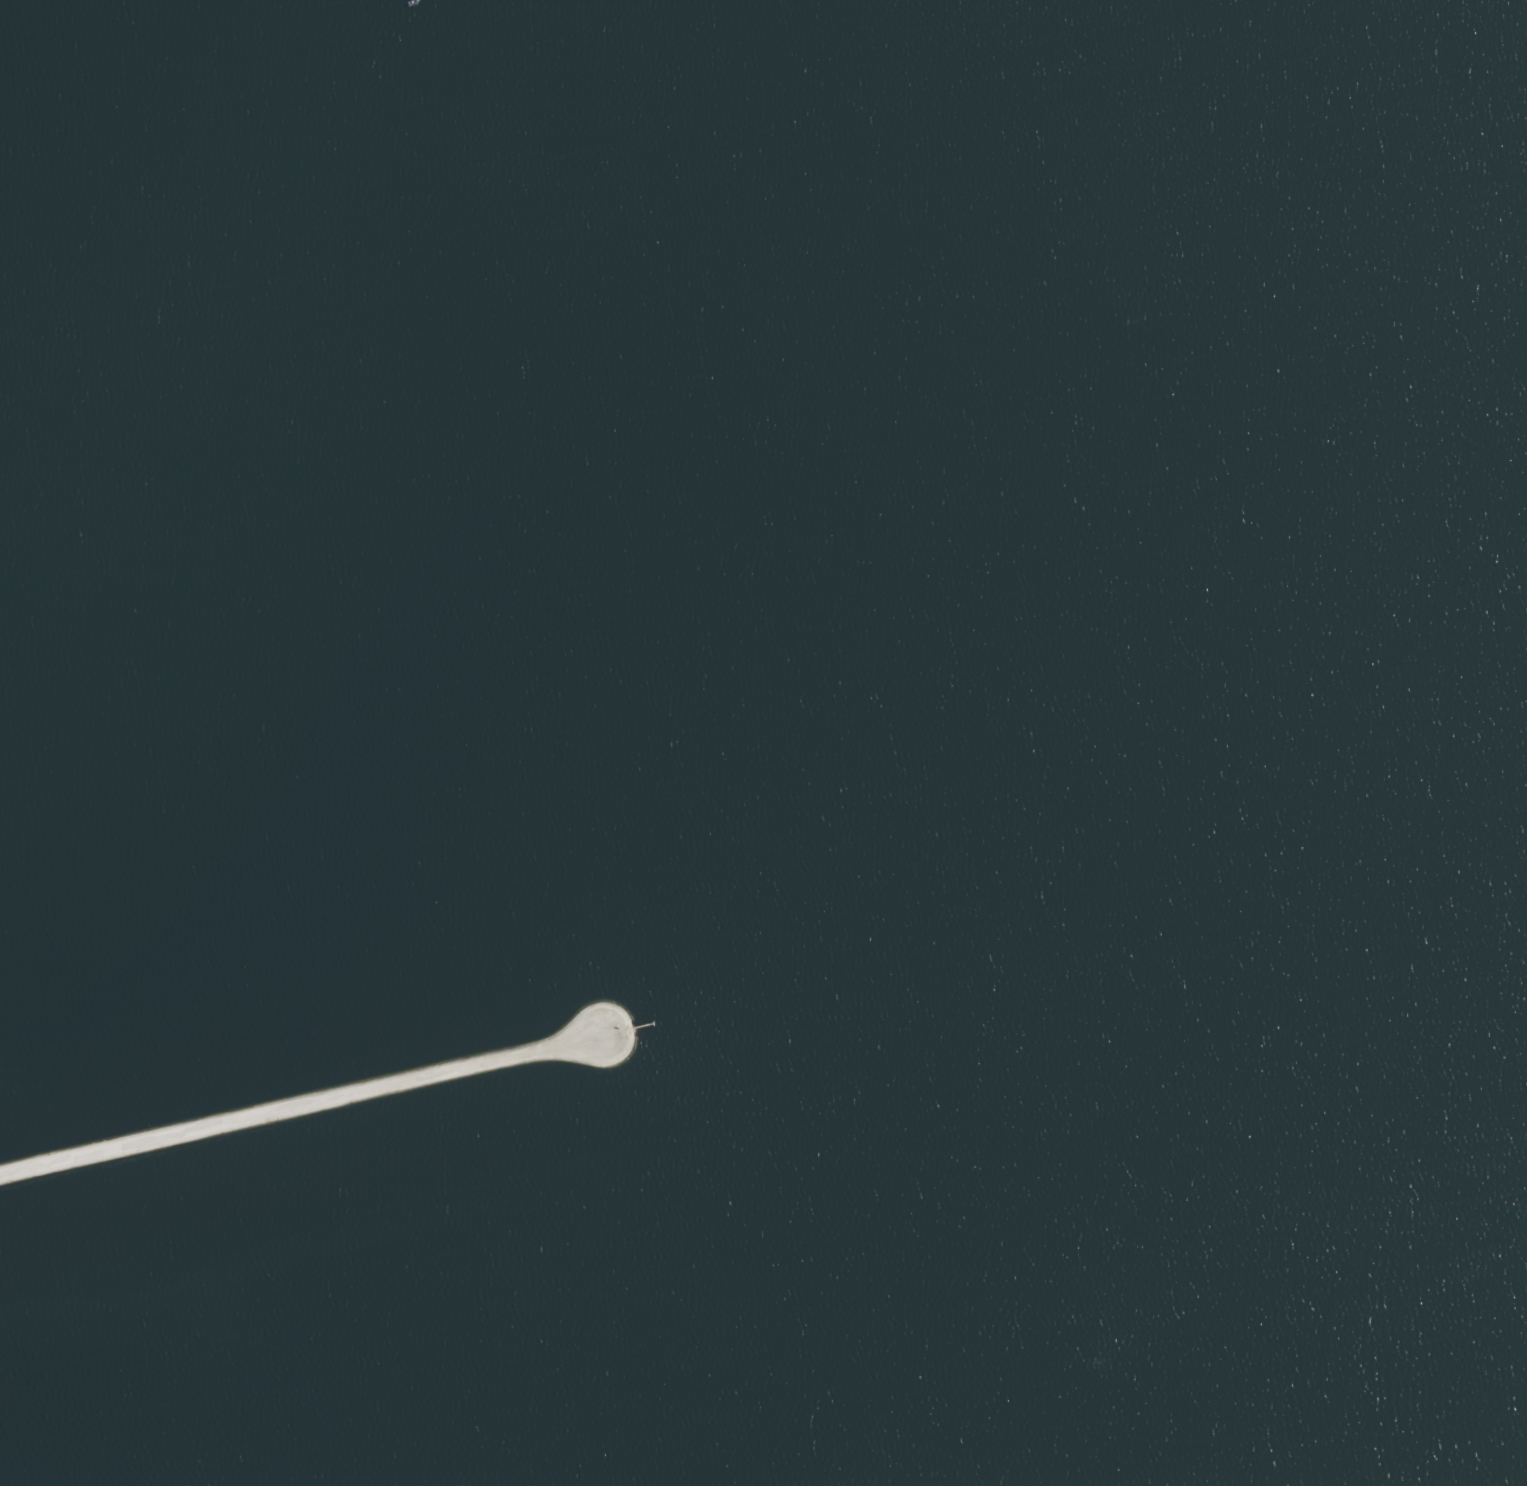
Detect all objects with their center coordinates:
road: (302, 1102)

